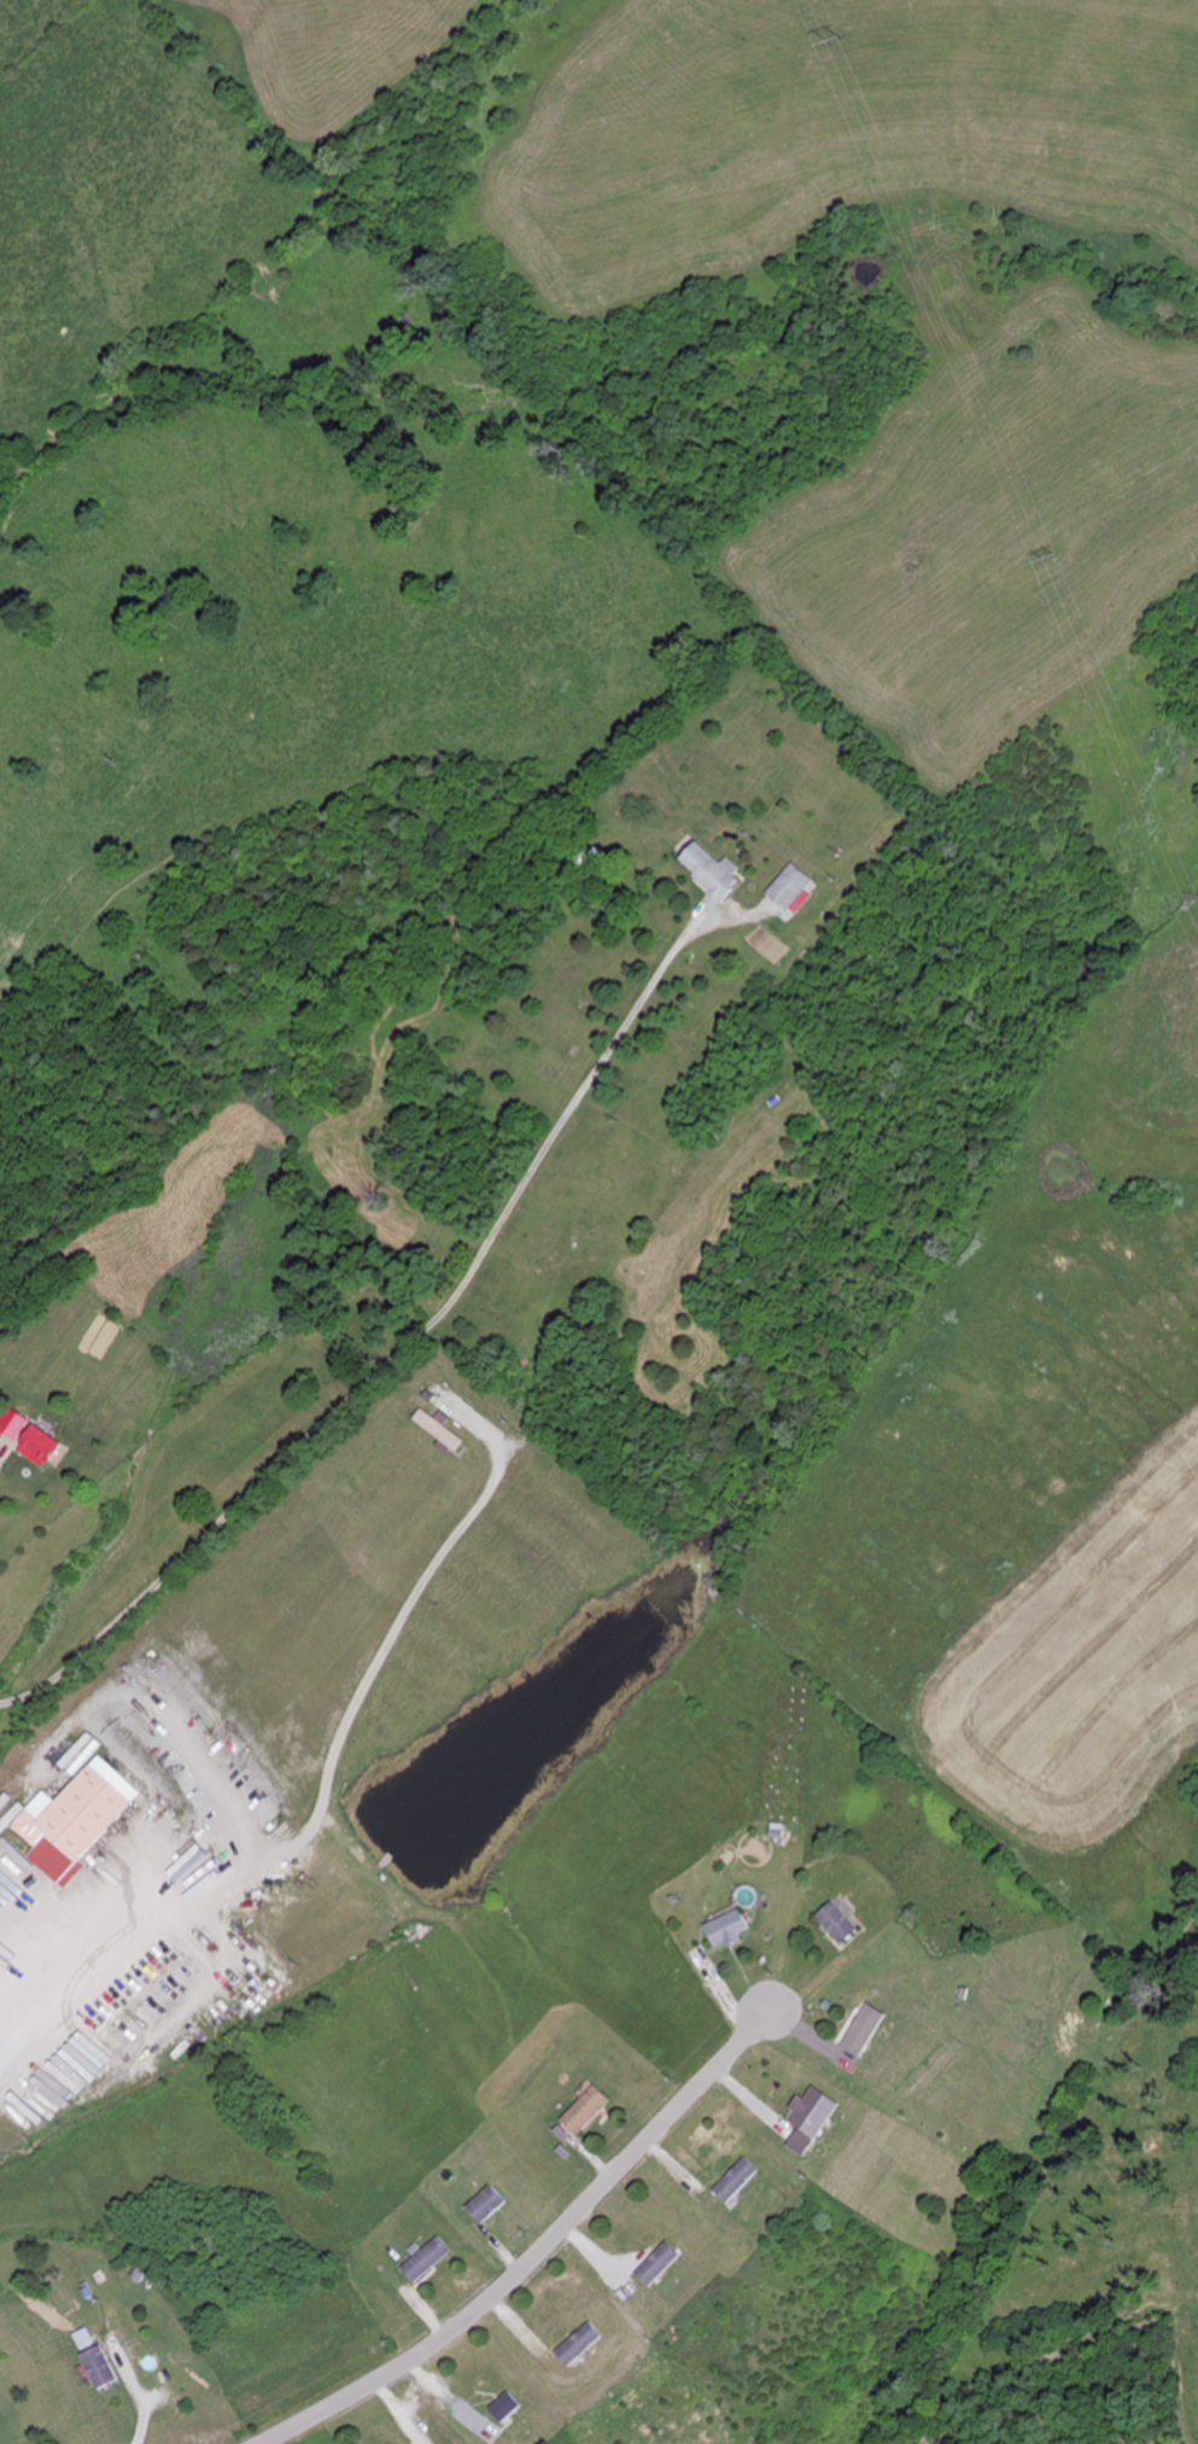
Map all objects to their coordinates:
power tower: (840, 41)
building: (712, 870)
building: (790, 886)
building: (13, 1424)
building: (40, 1446)
building: (71, 1820)
building: (837, 1923)
building: (726, 1927)
building: (865, 2030)
building: (585, 2111)
building: (813, 2113)
building: (801, 2145)
building: (737, 2181)
building: (485, 2205)
road: (539, 2255)
building: (426, 2261)
building: (658, 2264)
building: (578, 2344)
building: (98, 2368)
building: (504, 2408)

